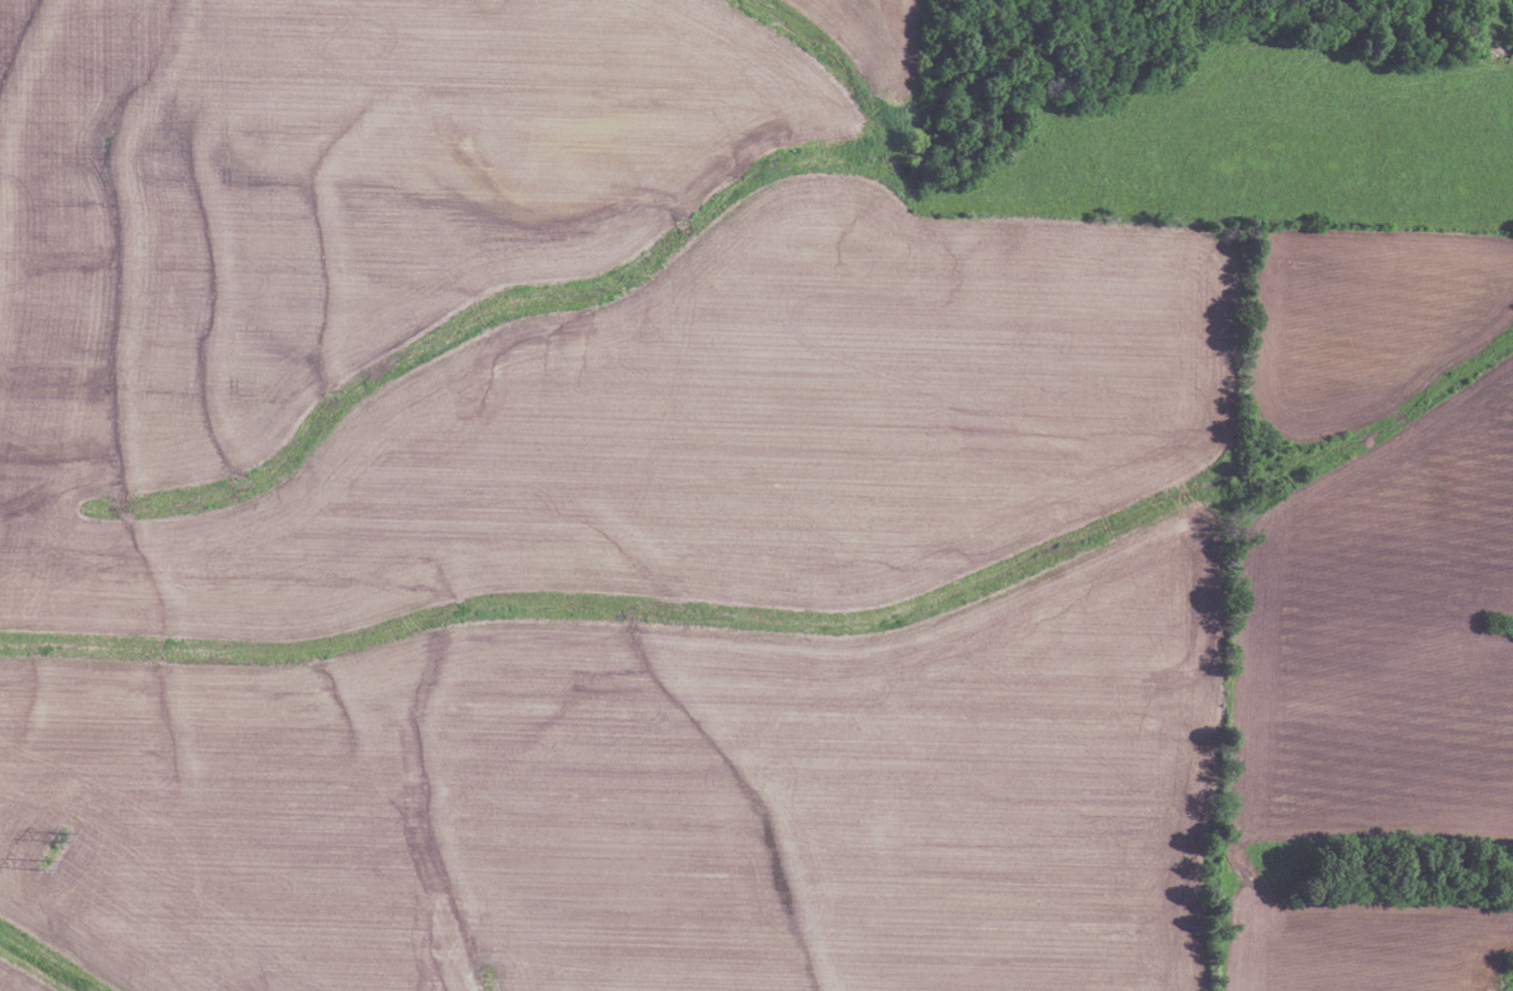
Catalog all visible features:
power tower: (54, 838)
power tower: (48, 868)

